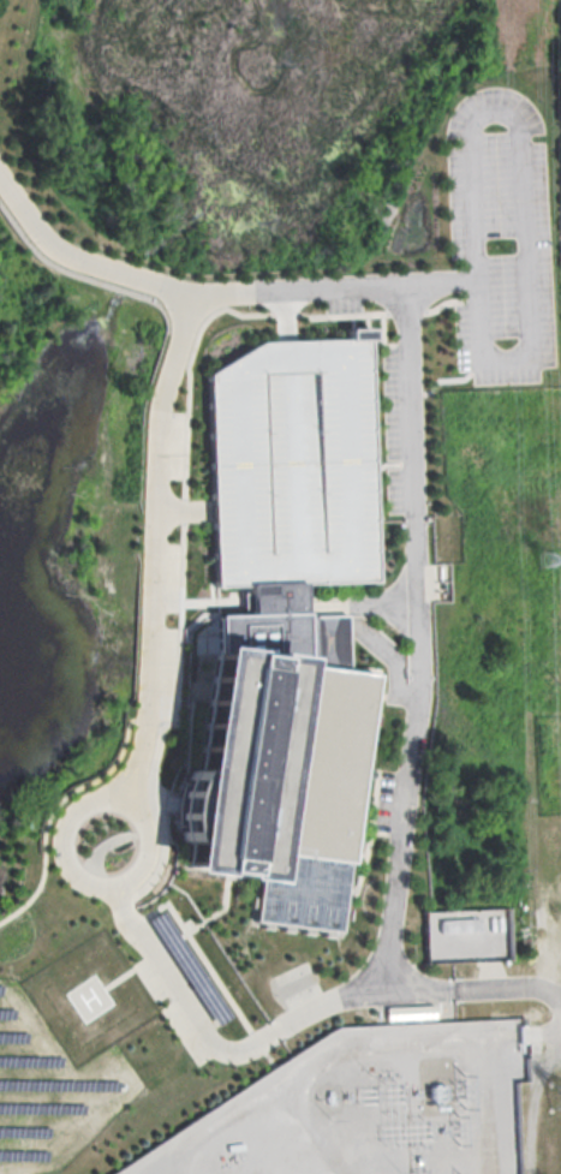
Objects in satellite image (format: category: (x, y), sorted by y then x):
road: (525, 190)
parking lot: (502, 233)
road: (108, 268)
road: (366, 282)
road: (432, 308)
road: (285, 310)
road: (354, 310)
road: (287, 312)
road: (186, 368)
building: (292, 464)
parking garage: (292, 464)
road: (183, 507)
road: (183, 507)
road: (155, 543)
power tower: (543, 567)
road: (419, 634)
road: (147, 717)
road: (161, 720)
building: (279, 781)
road: (172, 800)
road: (52, 810)
road: (159, 811)
road: (66, 822)
road: (215, 912)
building: (462, 936)
road: (155, 952)
road: (119, 977)
road: (472, 987)
parking lot: (183, 989)
road: (362, 991)
helipad: (91, 996)
road: (203, 1020)
road: (258, 1039)
road: (346, 1051)
road: (271, 1057)
power substation: (365, 1108)
road: (490, 1113)
road: (312, 1132)
road: (262, 1139)

